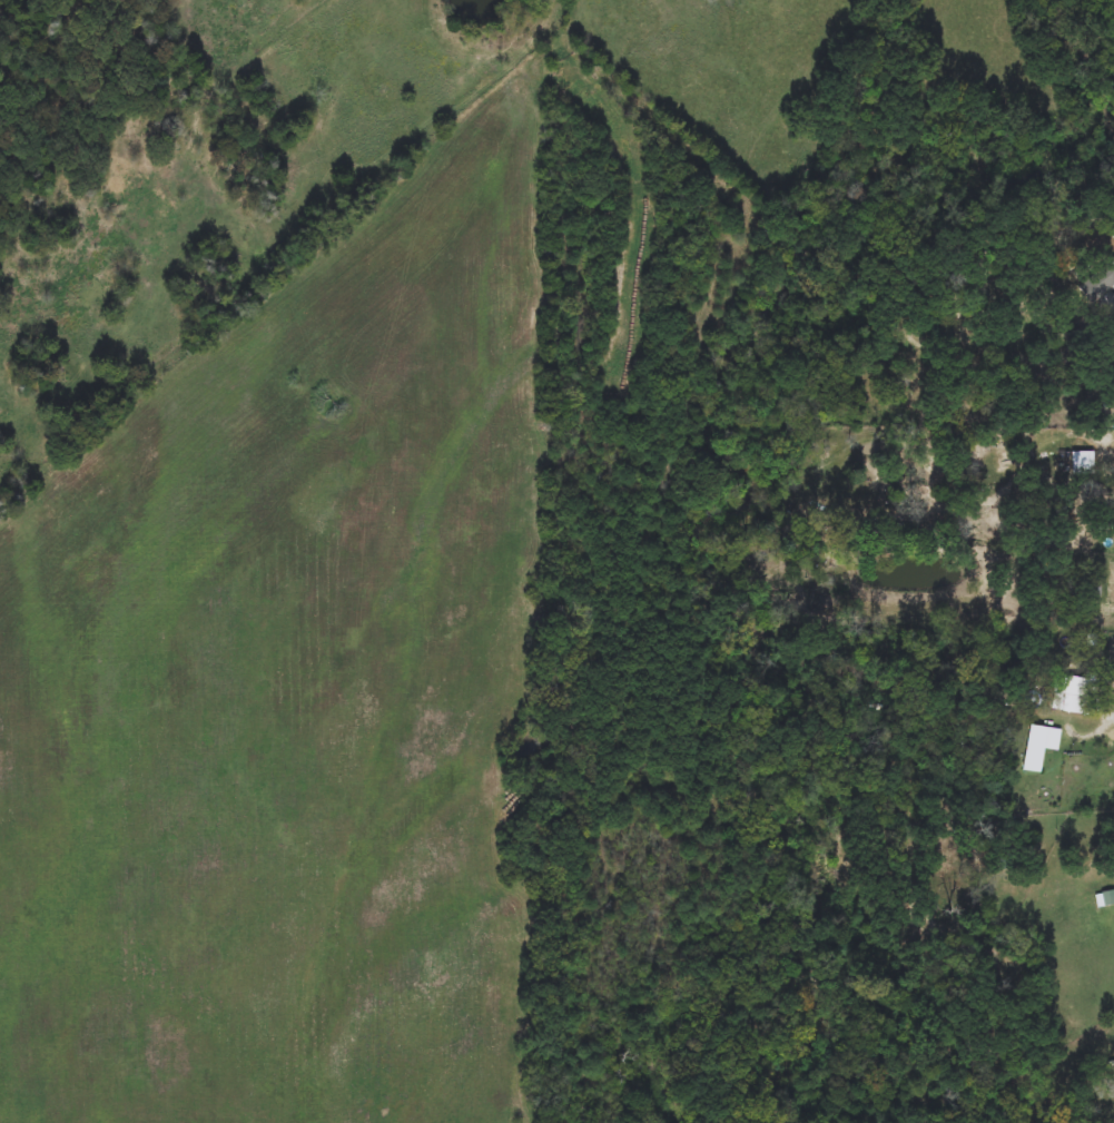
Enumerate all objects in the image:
building: (1113, 252)
road: (1105, 294)
building: (978, 487)
building: (1077, 695)
building: (1108, 899)
road: (1100, 1035)

